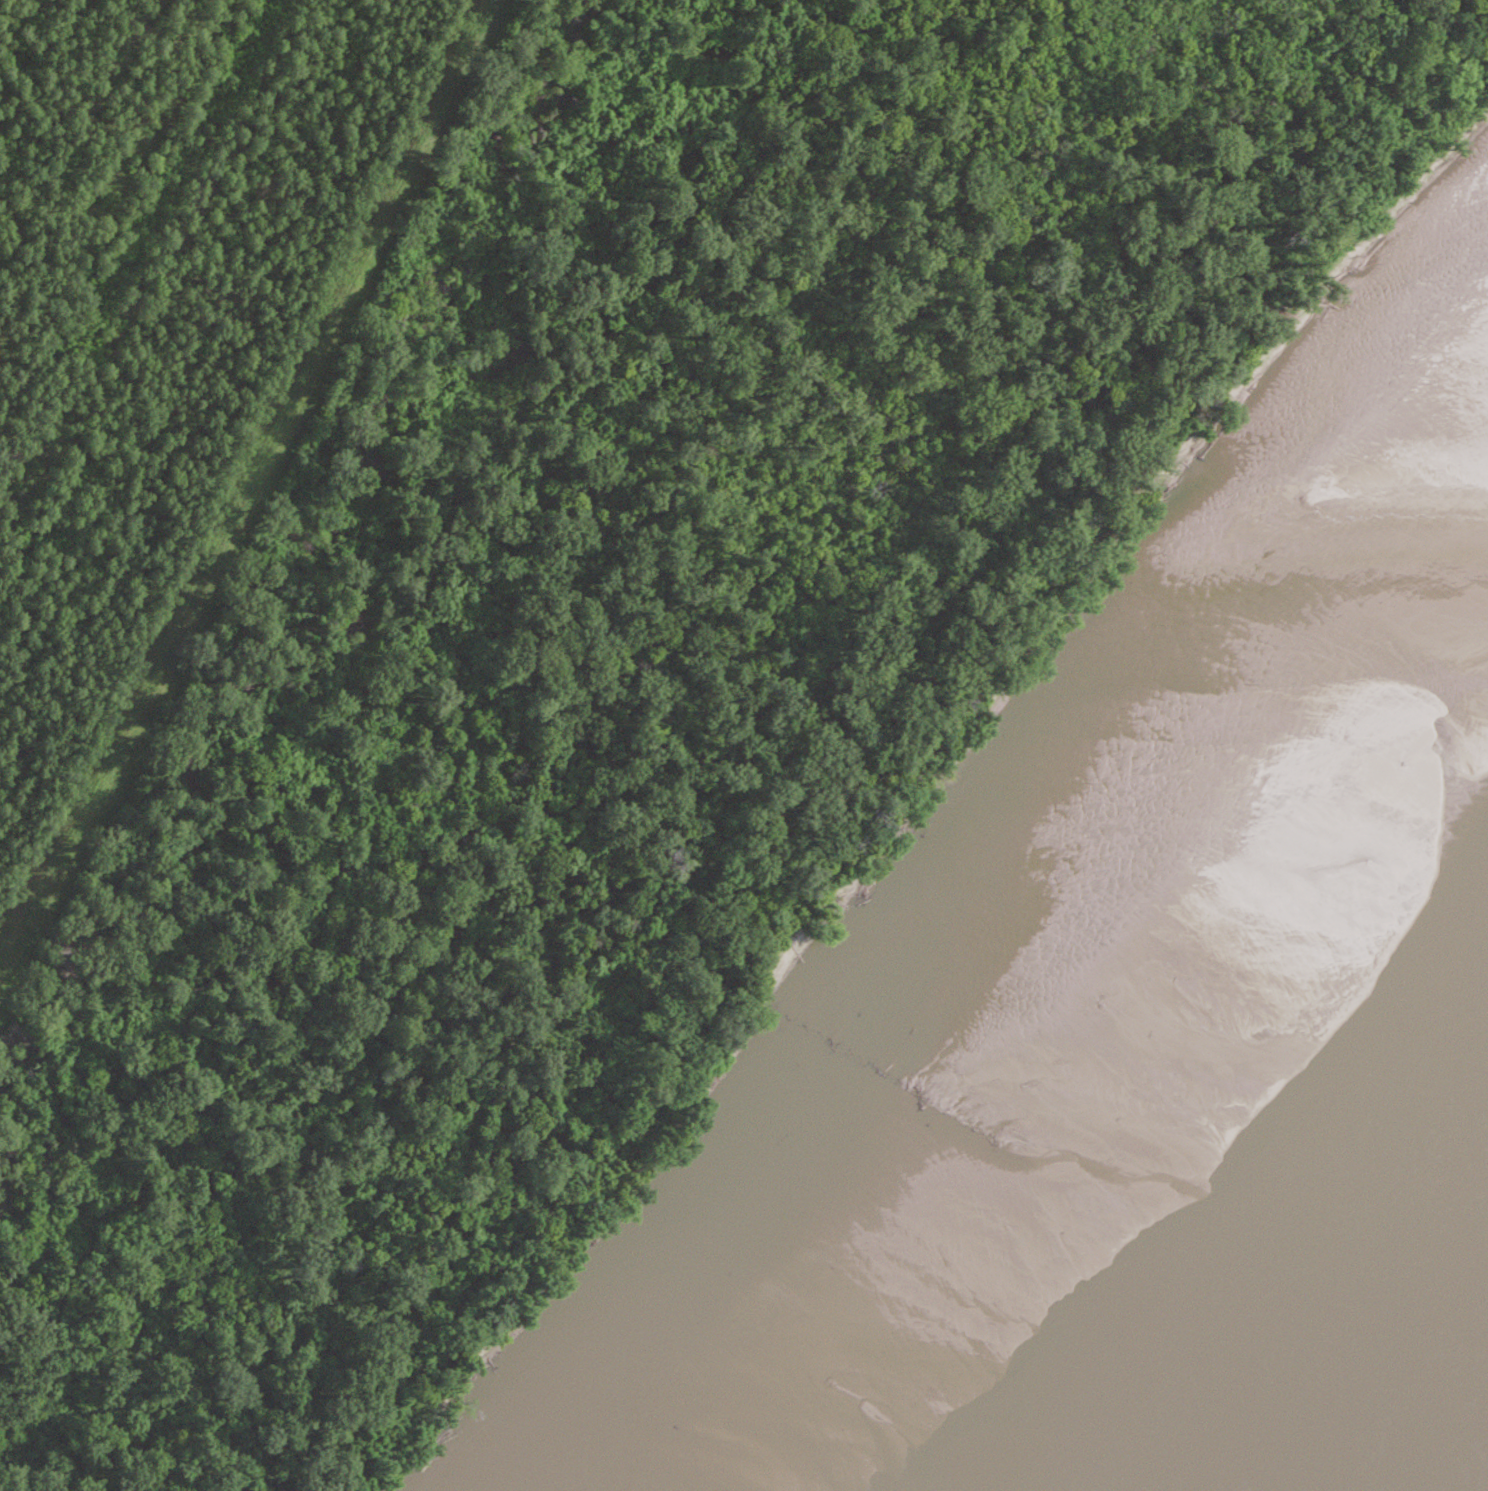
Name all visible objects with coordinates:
river: (1437, 1423)

